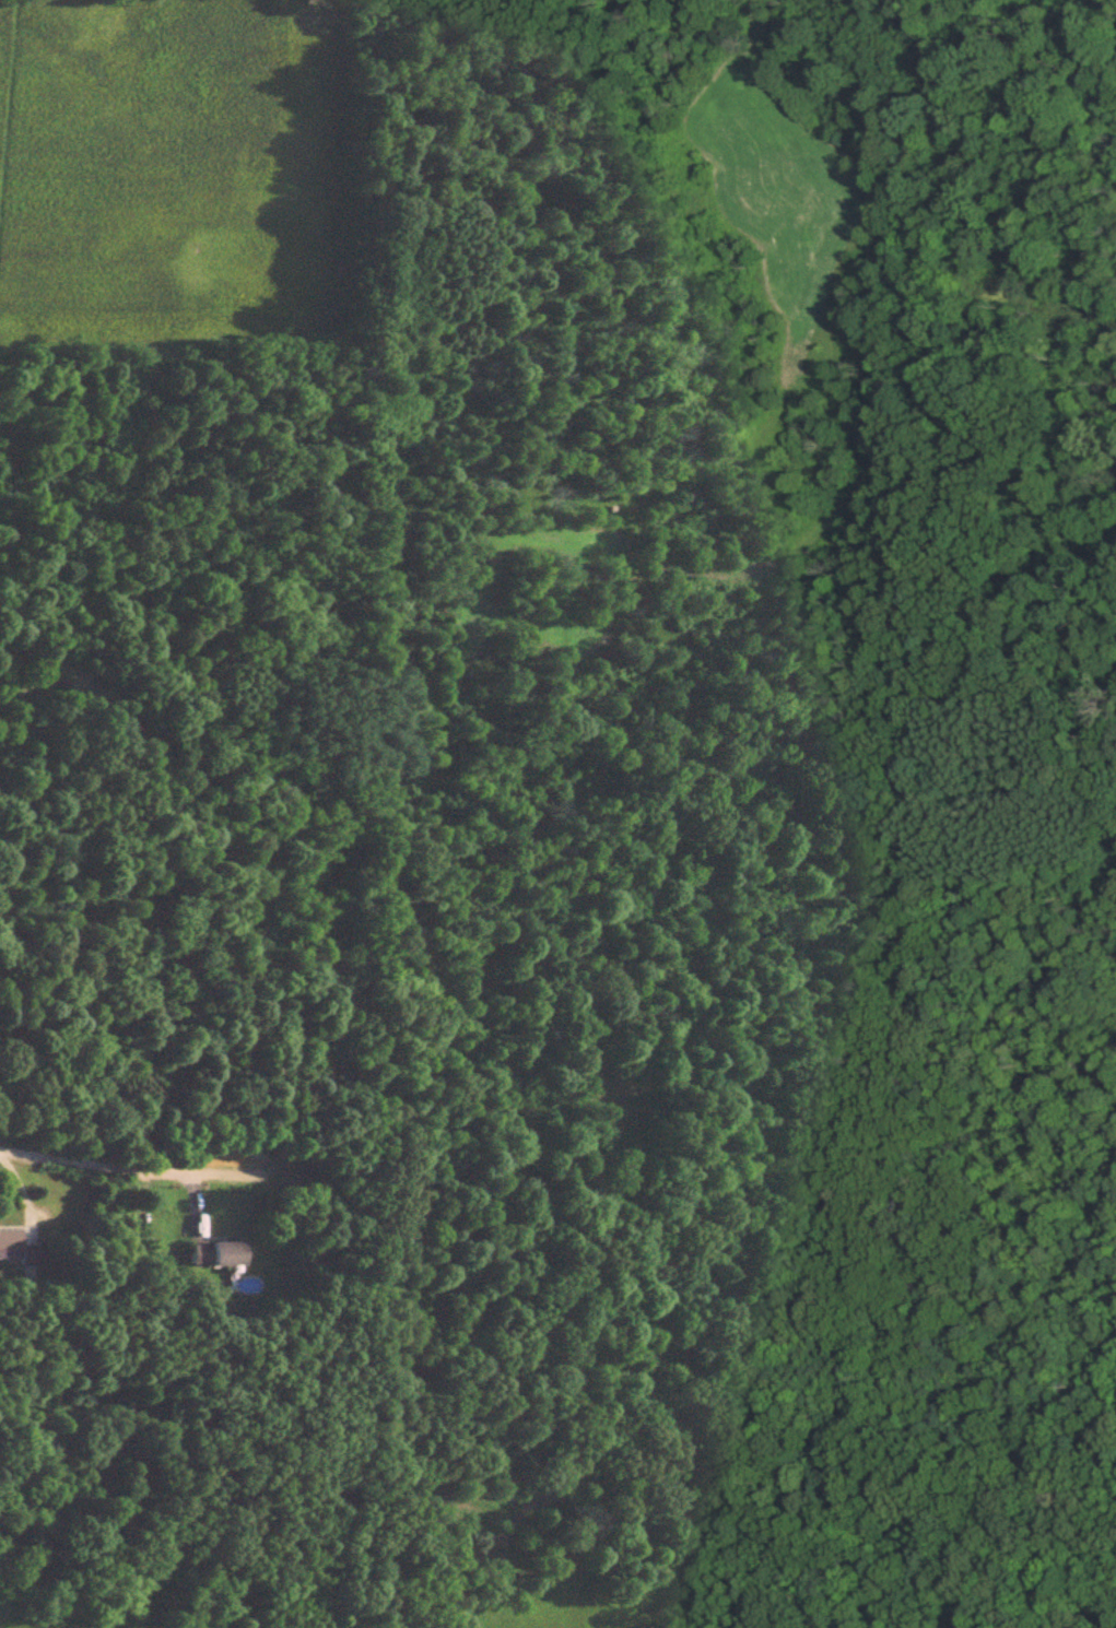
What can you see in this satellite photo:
road: (96, 1166)
building: (15, 1252)
building: (205, 1259)

